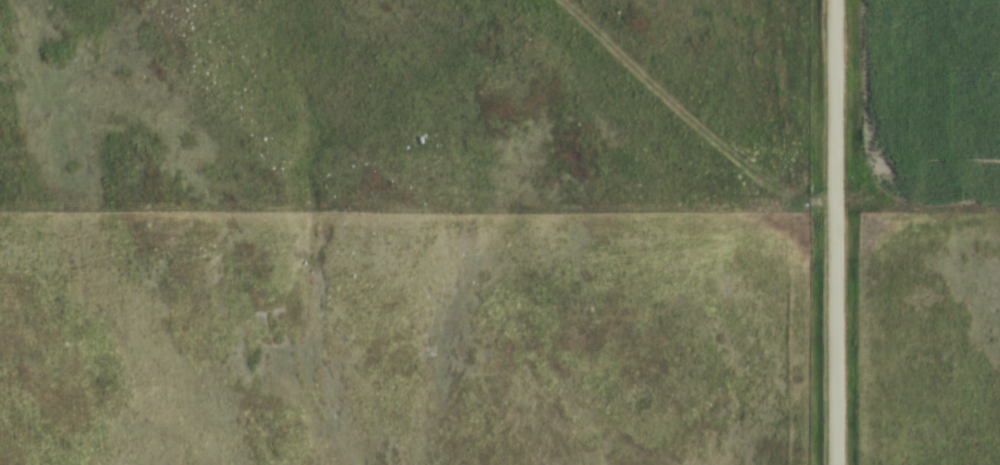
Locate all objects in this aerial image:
road: (832, 232)

